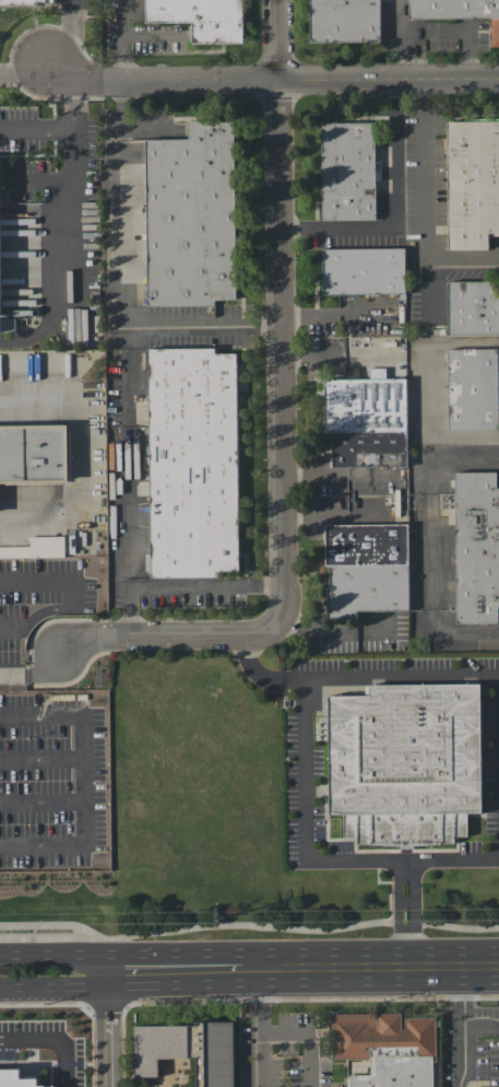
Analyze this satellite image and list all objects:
building: (26, 2)
building: (458, 12)
building: (201, 17)
building: (345, 21)
road: (458, 31)
road: (69, 35)
road: (124, 39)
road: (401, 39)
road: (24, 67)
road: (271, 80)
road: (74, 103)
road: (35, 127)
building: (140, 154)
building: (347, 171)
building: (472, 183)
road: (424, 201)
road: (394, 210)
building: (190, 215)
road: (70, 257)
building: (363, 270)
road: (126, 280)
road: (278, 306)
building: (472, 307)
road: (334, 315)
building: (7, 325)
road: (427, 387)
building: (472, 388)
building: (365, 421)
building: (33, 452)
road: (80, 453)
building: (192, 463)
road: (465, 465)
road: (375, 476)
road: (314, 477)
road: (130, 481)
road: (371, 515)
road: (313, 516)
building: (476, 547)
building: (36, 548)
road: (430, 548)
building: (365, 568)
road: (206, 585)
road: (78, 594)
road: (466, 629)
road: (332, 632)
road: (177, 635)
road: (39, 673)
road: (357, 678)
building: (404, 761)
road: (85, 780)
road: (43, 805)
road: (304, 816)
road: (448, 857)
road: (413, 910)
road: (397, 912)
power tower: (222, 916)
road: (248, 924)
road: (51, 958)
road: (480, 961)
road: (331, 967)
road: (150, 971)
road: (52, 986)
road: (463, 1010)
road: (260, 1028)
road: (103, 1029)
road: (307, 1035)
road: (54, 1045)
building: (385, 1048)
building: (189, 1050)
road: (461, 1054)

